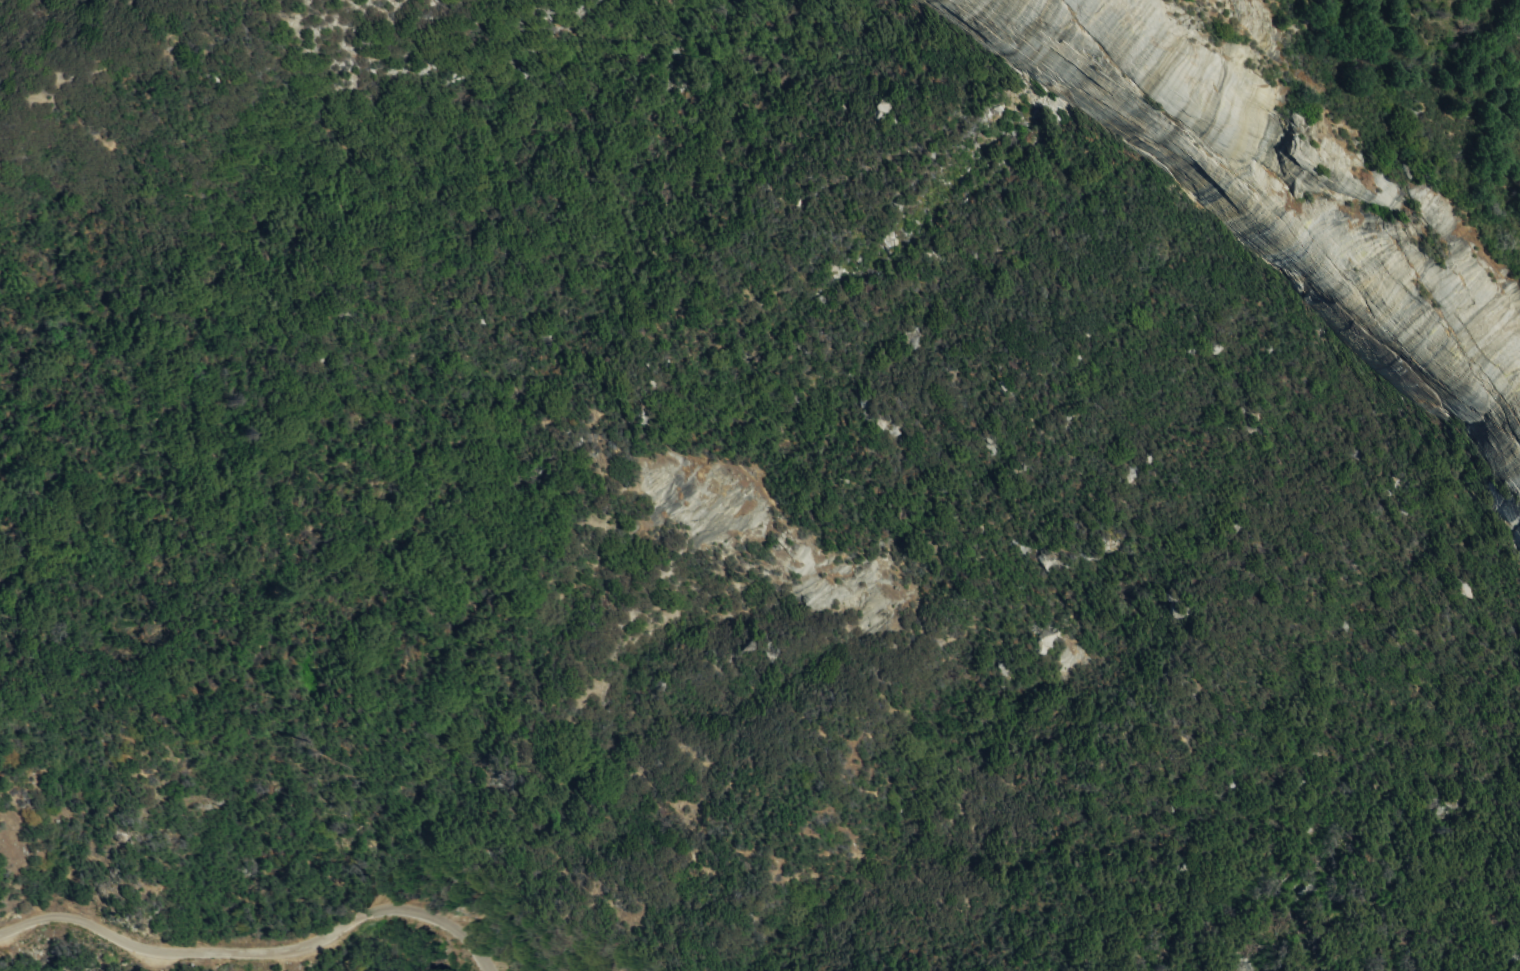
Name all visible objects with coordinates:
road: (1425, 98)
road: (260, 950)

